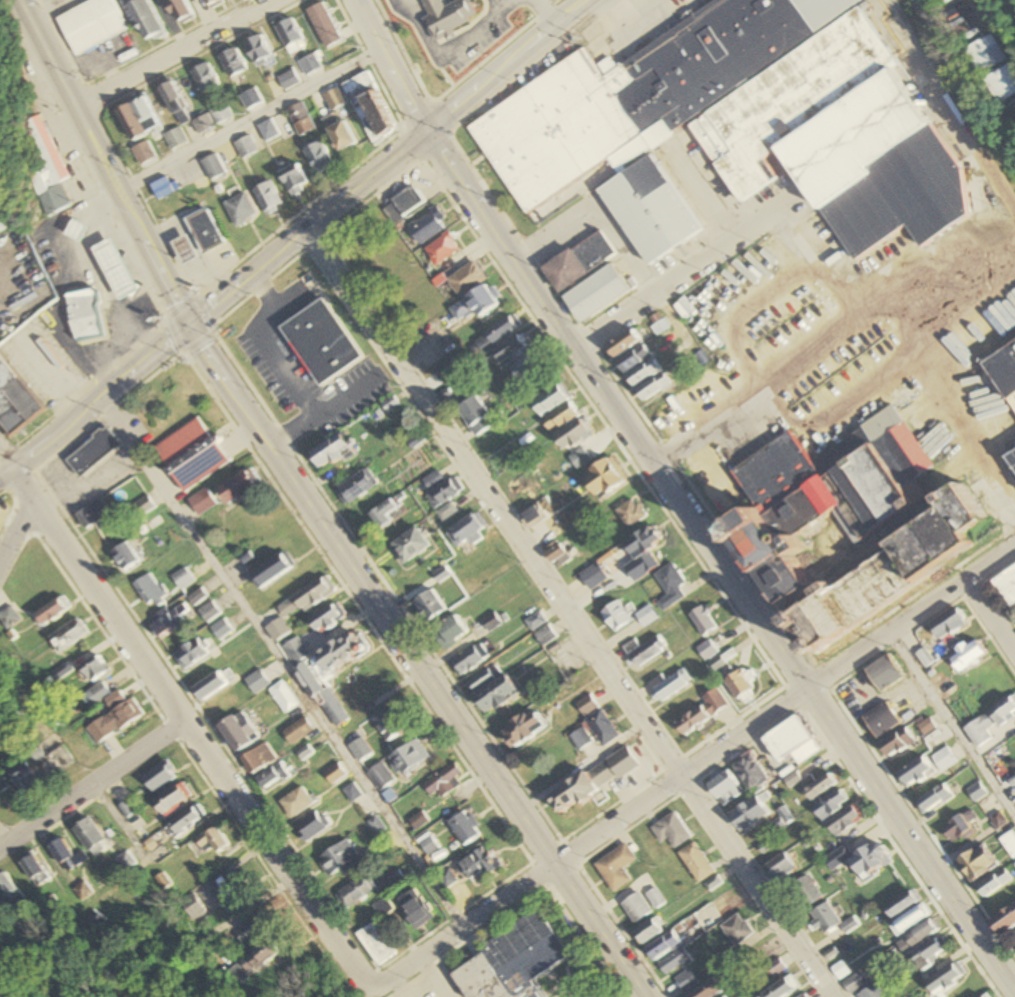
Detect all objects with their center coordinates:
building: (223, 0)
building: (943, 2)
building: (212, 3)
road: (47, 10)
building: (447, 16)
building: (143, 19)
building: (90, 25)
building: (322, 26)
building: (289, 35)
building: (257, 51)
building: (986, 55)
road: (176, 56)
building: (230, 63)
building: (308, 65)
road: (389, 66)
building: (203, 78)
building: (287, 80)
road: (961, 83)
building: (1003, 84)
building: (333, 99)
building: (368, 108)
building: (219, 113)
building: (135, 119)
building: (299, 119)
road: (246, 120)
building: (201, 124)
building: (737, 124)
building: (266, 130)
building: (340, 136)
building: (174, 138)
building: (244, 147)
building: (142, 153)
building: (317, 157)
road: (385, 165)
road: (100, 167)
building: (212, 167)
building: (44, 169)
building: (292, 179)
building: (163, 188)
building: (266, 197)
building: (402, 205)
building: (238, 210)
building: (428, 225)
building: (1, 226)
building: (74, 230)
building: (204, 231)
building: (368, 232)
building: (441, 248)
building: (347, 249)
building: (183, 250)
building: (579, 260)
building: (113, 268)
building: (384, 269)
road: (696, 271)
building: (466, 278)
building: (596, 292)
building: (475, 303)
building: (84, 315)
road: (828, 325)
building: (660, 326)
building: (496, 334)
traffic signals: (185, 335)
building: (320, 342)
building: (622, 343)
building: (509, 351)
building: (527, 366)
building: (1004, 369)
building: (643, 373)
building: (441, 377)
building: (551, 399)
building: (14, 400)
road: (100, 409)
building: (475, 415)
building: (560, 417)
building: (573, 435)
road: (241, 439)
building: (329, 450)
building: (92, 452)
road: (13, 456)
building: (195, 456)
building: (1012, 456)
building: (602, 477)
building: (237, 486)
building: (356, 486)
road: (7, 487)
building: (440, 488)
road: (23, 494)
road: (11, 500)
building: (201, 501)
building: (143, 505)
building: (446, 511)
building: (383, 512)
building: (631, 512)
building: (91, 514)
building: (532, 515)
building: (851, 520)
building: (467, 529)
road: (16, 534)
building: (642, 541)
building: (410, 545)
building: (554, 552)
building: (124, 556)
road: (717, 566)
building: (271, 570)
building: (593, 576)
building: (182, 579)
building: (1007, 584)
building: (670, 586)
building: (150, 591)
building: (313, 593)
building: (196, 597)
building: (428, 605)
building: (286, 609)
building: (51, 611)
building: (208, 612)
road: (569, 613)
building: (615, 616)
building: (646, 616)
building: (9, 618)
building: (169, 618)
building: (326, 618)
road: (991, 619)
building: (702, 620)
building: (949, 625)
building: (540, 629)
building: (220, 630)
building: (277, 630)
building: (451, 630)
building: (68, 635)
building: (645, 650)
building: (706, 650)
building: (293, 651)
building: (339, 652)
building: (190, 654)
building: (966, 655)
building: (469, 659)
road: (289, 664)
road: (418, 665)
building: (94, 670)
building: (883, 673)
building: (483, 678)
building: (257, 682)
building: (737, 683)
building: (671, 684)
building: (209, 686)
building: (99, 692)
building: (320, 694)
building: (496, 694)
building: (283, 696)
building: (586, 705)
road: (788, 710)
building: (1006, 710)
building: (702, 711)
building: (880, 720)
building: (113, 721)
building: (389, 724)
road: (954, 724)
building: (601, 728)
building: (297, 730)
building: (237, 731)
building: (980, 731)
building: (580, 739)
building: (791, 741)
building: (896, 742)
road: (198, 750)
building: (407, 757)
building: (258, 758)
building: (944, 759)
building: (41, 770)
building: (751, 772)
building: (915, 772)
building: (334, 773)
building: (380, 775)
building: (160, 776)
building: (271, 776)
building: (592, 780)
building: (819, 787)
building: (724, 788)
road: (92, 792)
building: (352, 792)
building: (977, 792)
building: (934, 798)
building: (170, 799)
building: (295, 802)
building: (830, 805)
building: (747, 813)
building: (185, 820)
building: (843, 821)
building: (312, 825)
building: (375, 826)
building: (959, 827)
building: (463, 828)
building: (670, 831)
building: (91, 836)
road: (5, 837)
building: (771, 837)
building: (212, 839)
building: (1009, 843)
building: (428, 845)
building: (66, 855)
building: (336, 858)
building: (869, 859)
building: (696, 862)
building: (976, 862)
building: (477, 864)
building: (780, 866)
building: (615, 867)
building: (34, 871)
building: (994, 882)
building: (231, 886)
building: (8, 891)
building: (356, 891)
building: (82, 892)
building: (805, 892)
road: (112, 894)
building: (655, 898)
building: (902, 903)
building: (381, 907)
building: (636, 907)
building: (415, 909)
building: (824, 918)
building: (909, 919)
building: (1004, 920)
building: (94, 921)
building: (849, 925)
road: (464, 929)
building: (736, 929)
building: (252, 930)
building: (647, 931)
building: (917, 936)
building: (374, 944)
building: (662, 946)
building: (929, 952)
building: (263, 953)
building: (674, 963)
building: (516, 971)
building: (770, 971)
building: (237, 975)
road: (432, 978)
building: (944, 979)
building: (685, 981)
building: (854, 981)
parking lot: (437, 988)
building: (781, 988)
building: (707, 990)
building: (871, 992)
building: (67, 995)
building: (985, 995)
building: (73, 996)
building: (726, 996)
building: (802, 996)

